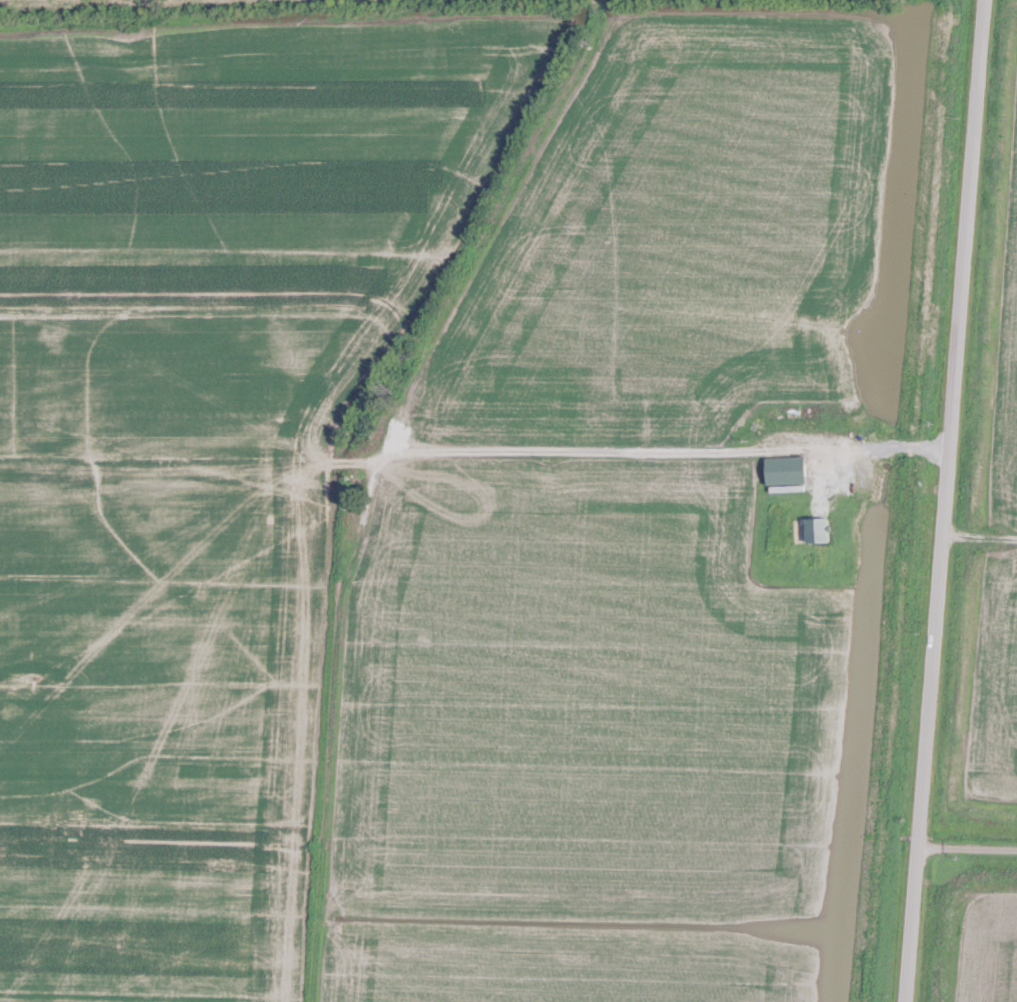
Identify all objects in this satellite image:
road: (878, 448)
road: (945, 501)
road: (966, 847)

